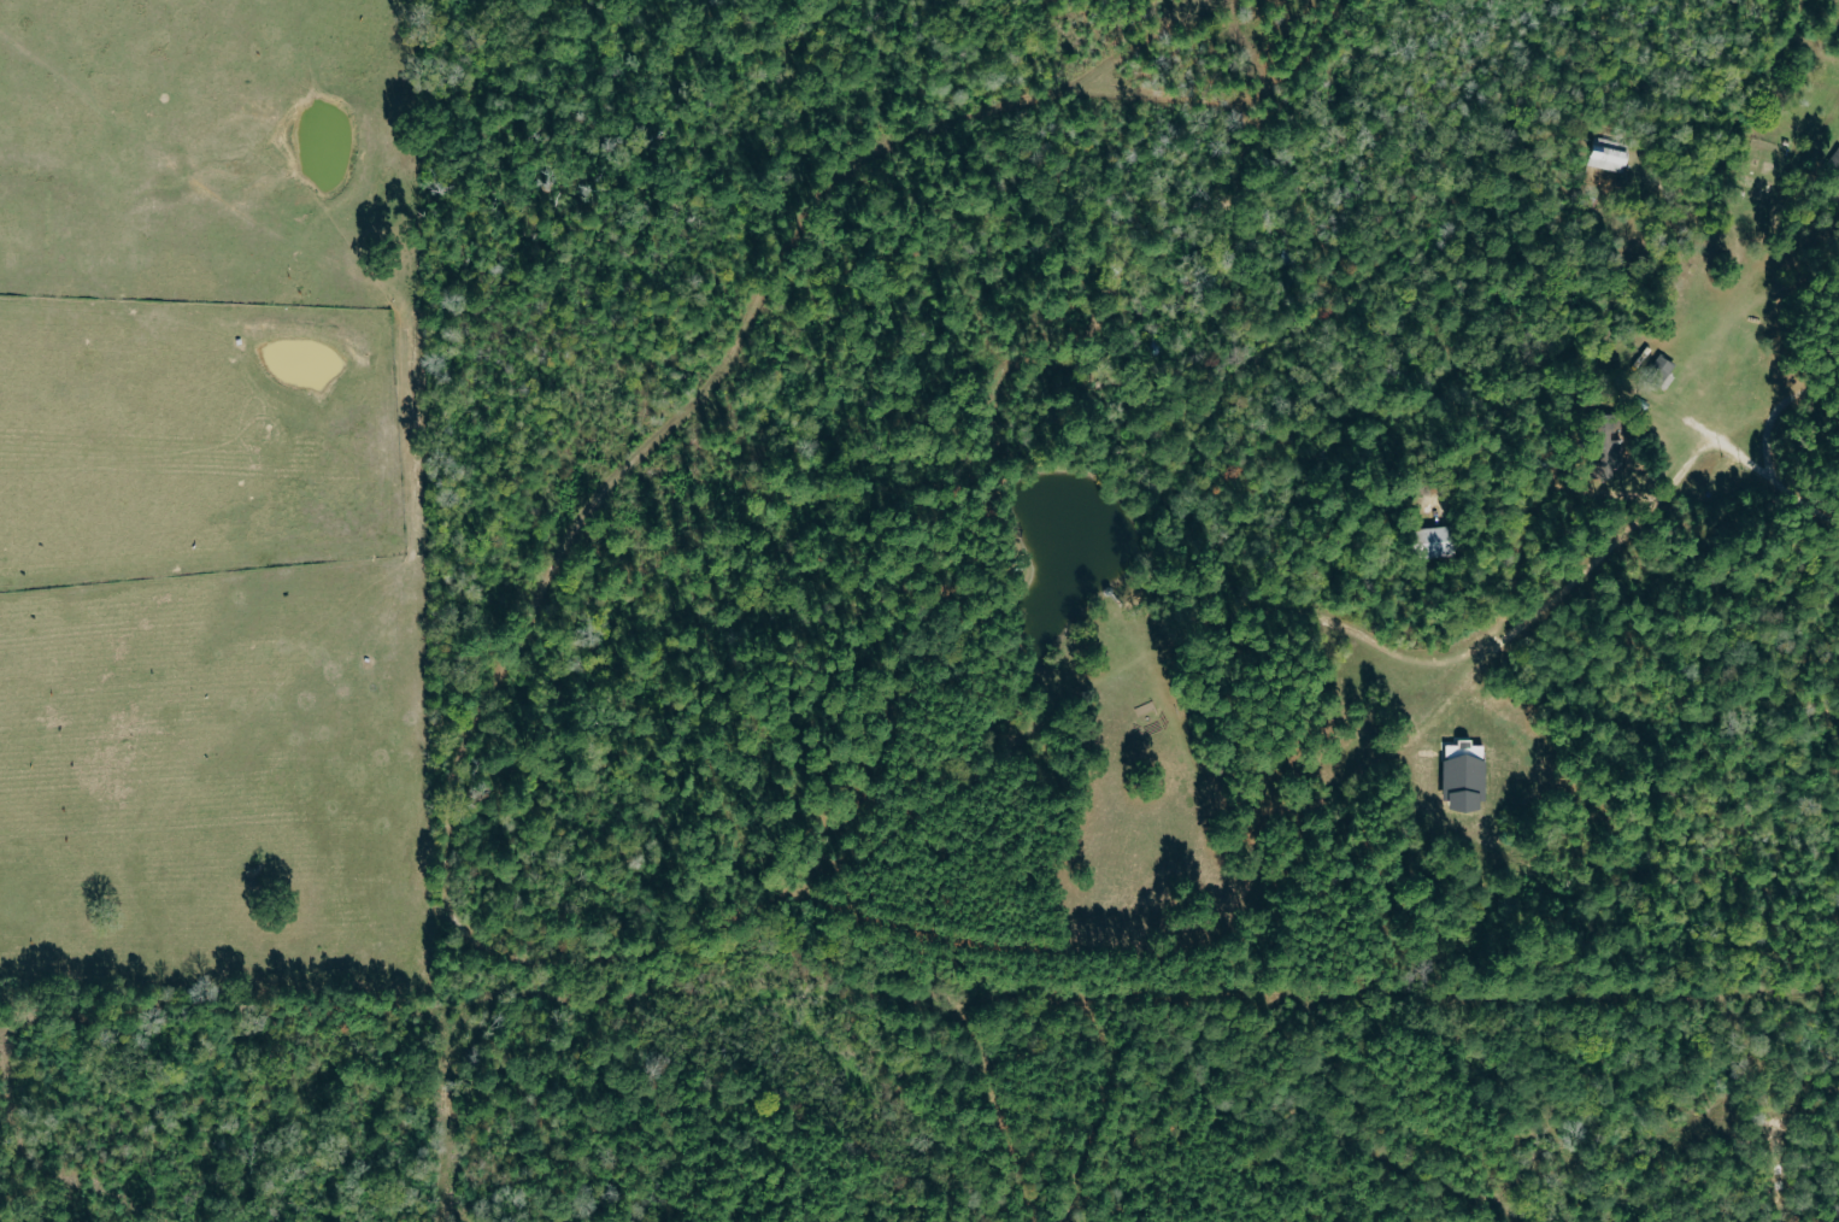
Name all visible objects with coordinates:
building: (1610, 155)
building: (1661, 369)
road: (1779, 410)
building: (1611, 447)
road: (1779, 482)
building: (1439, 541)
road: (1580, 569)
building: (1467, 777)

